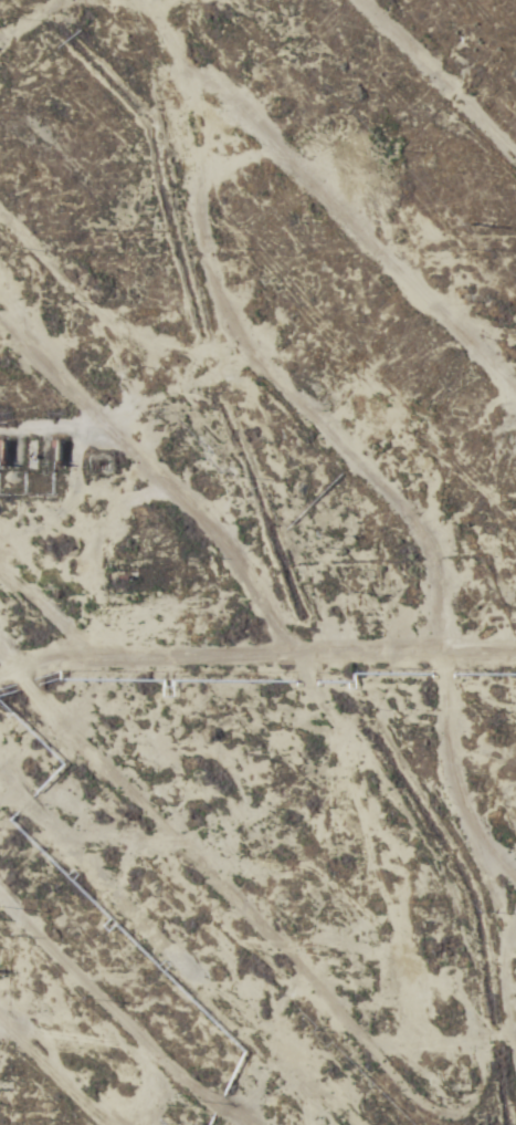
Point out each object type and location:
road: (262, 274)
road: (323, 655)
road: (253, 793)
road: (60, 1063)

